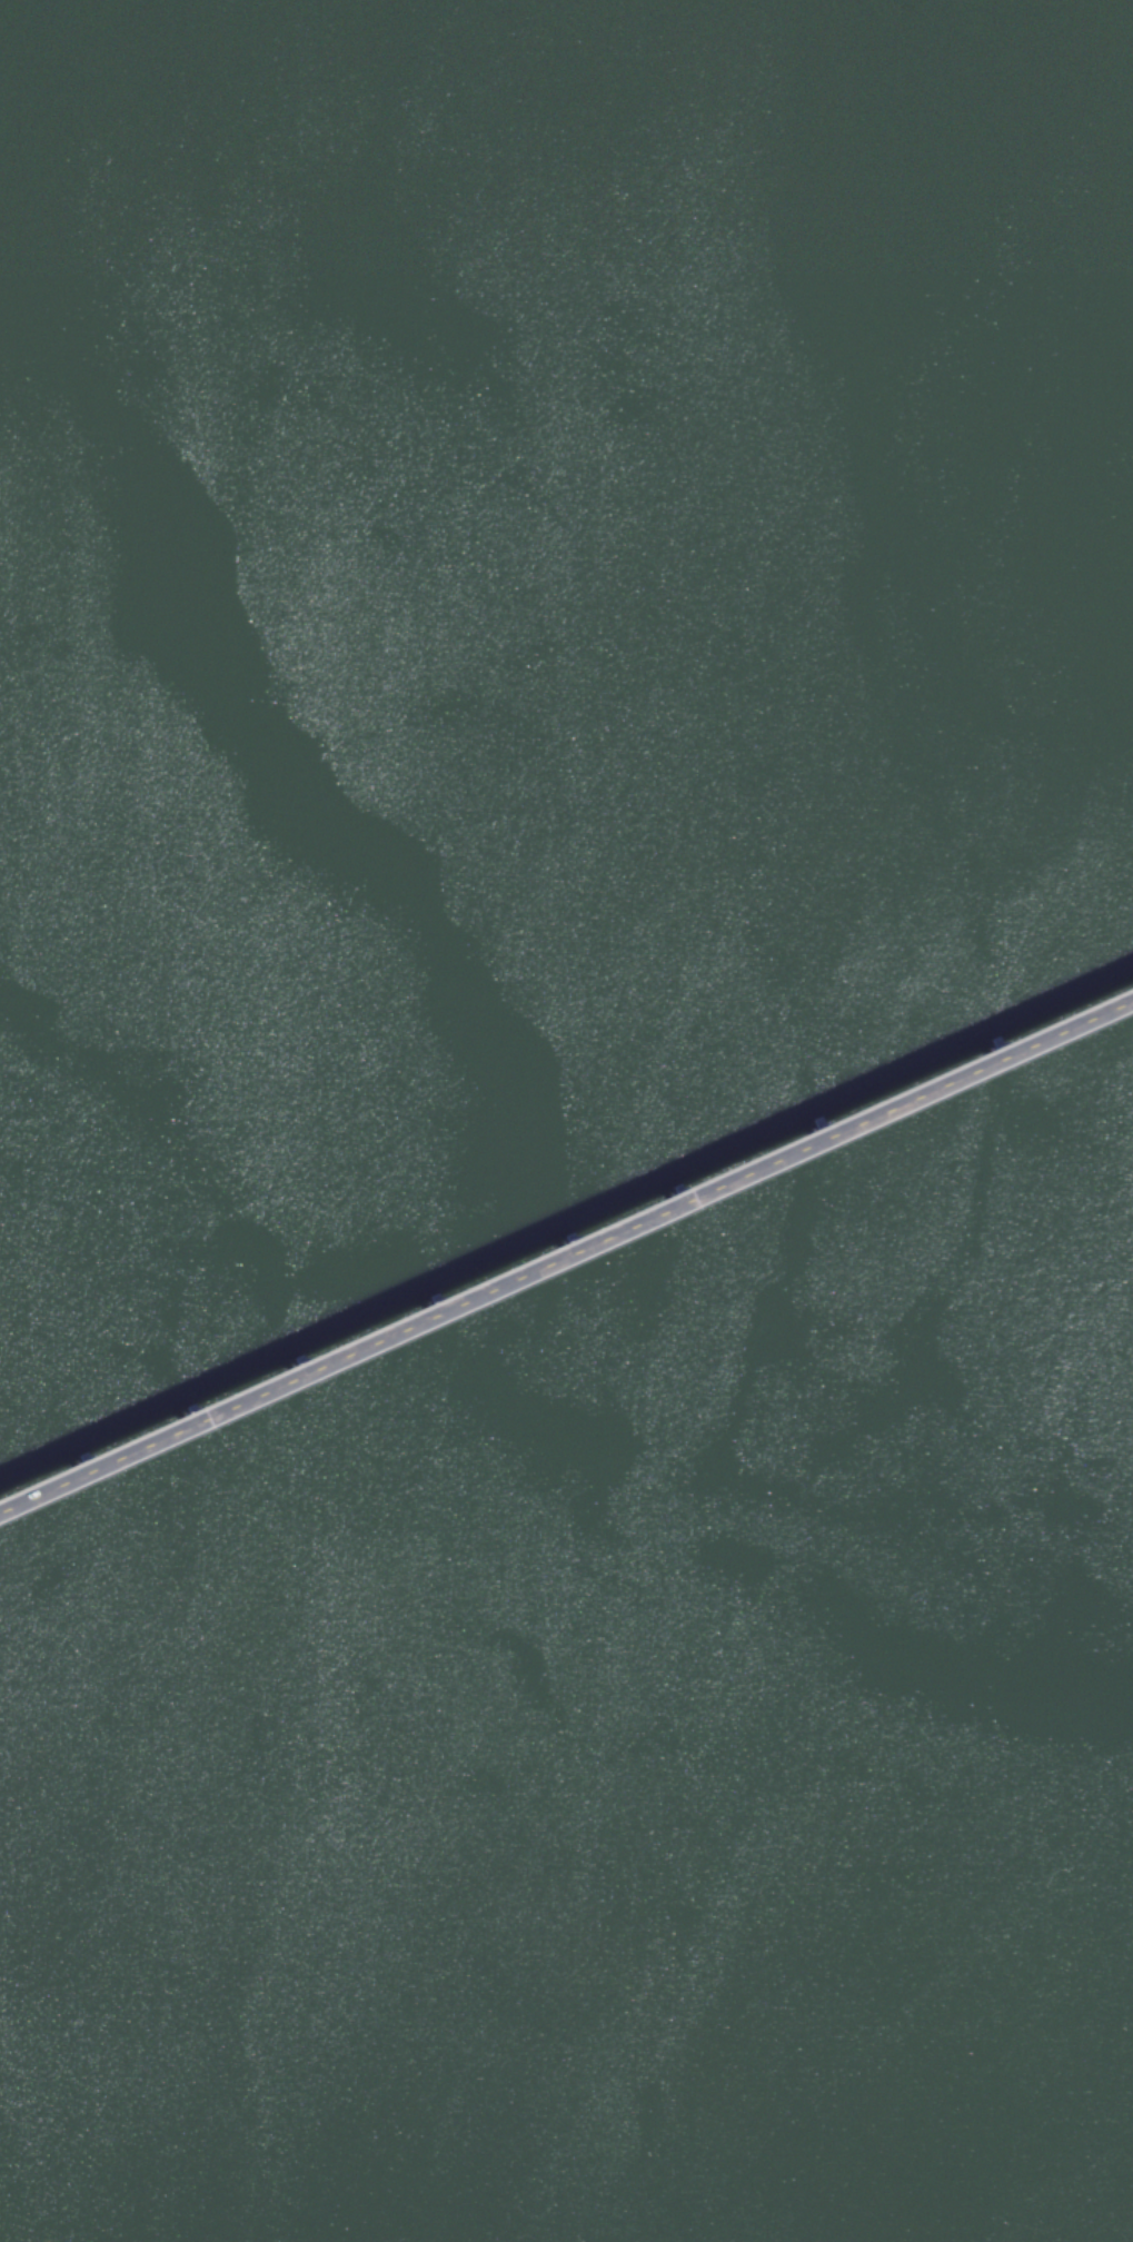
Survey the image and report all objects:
road: (566, 1260)

